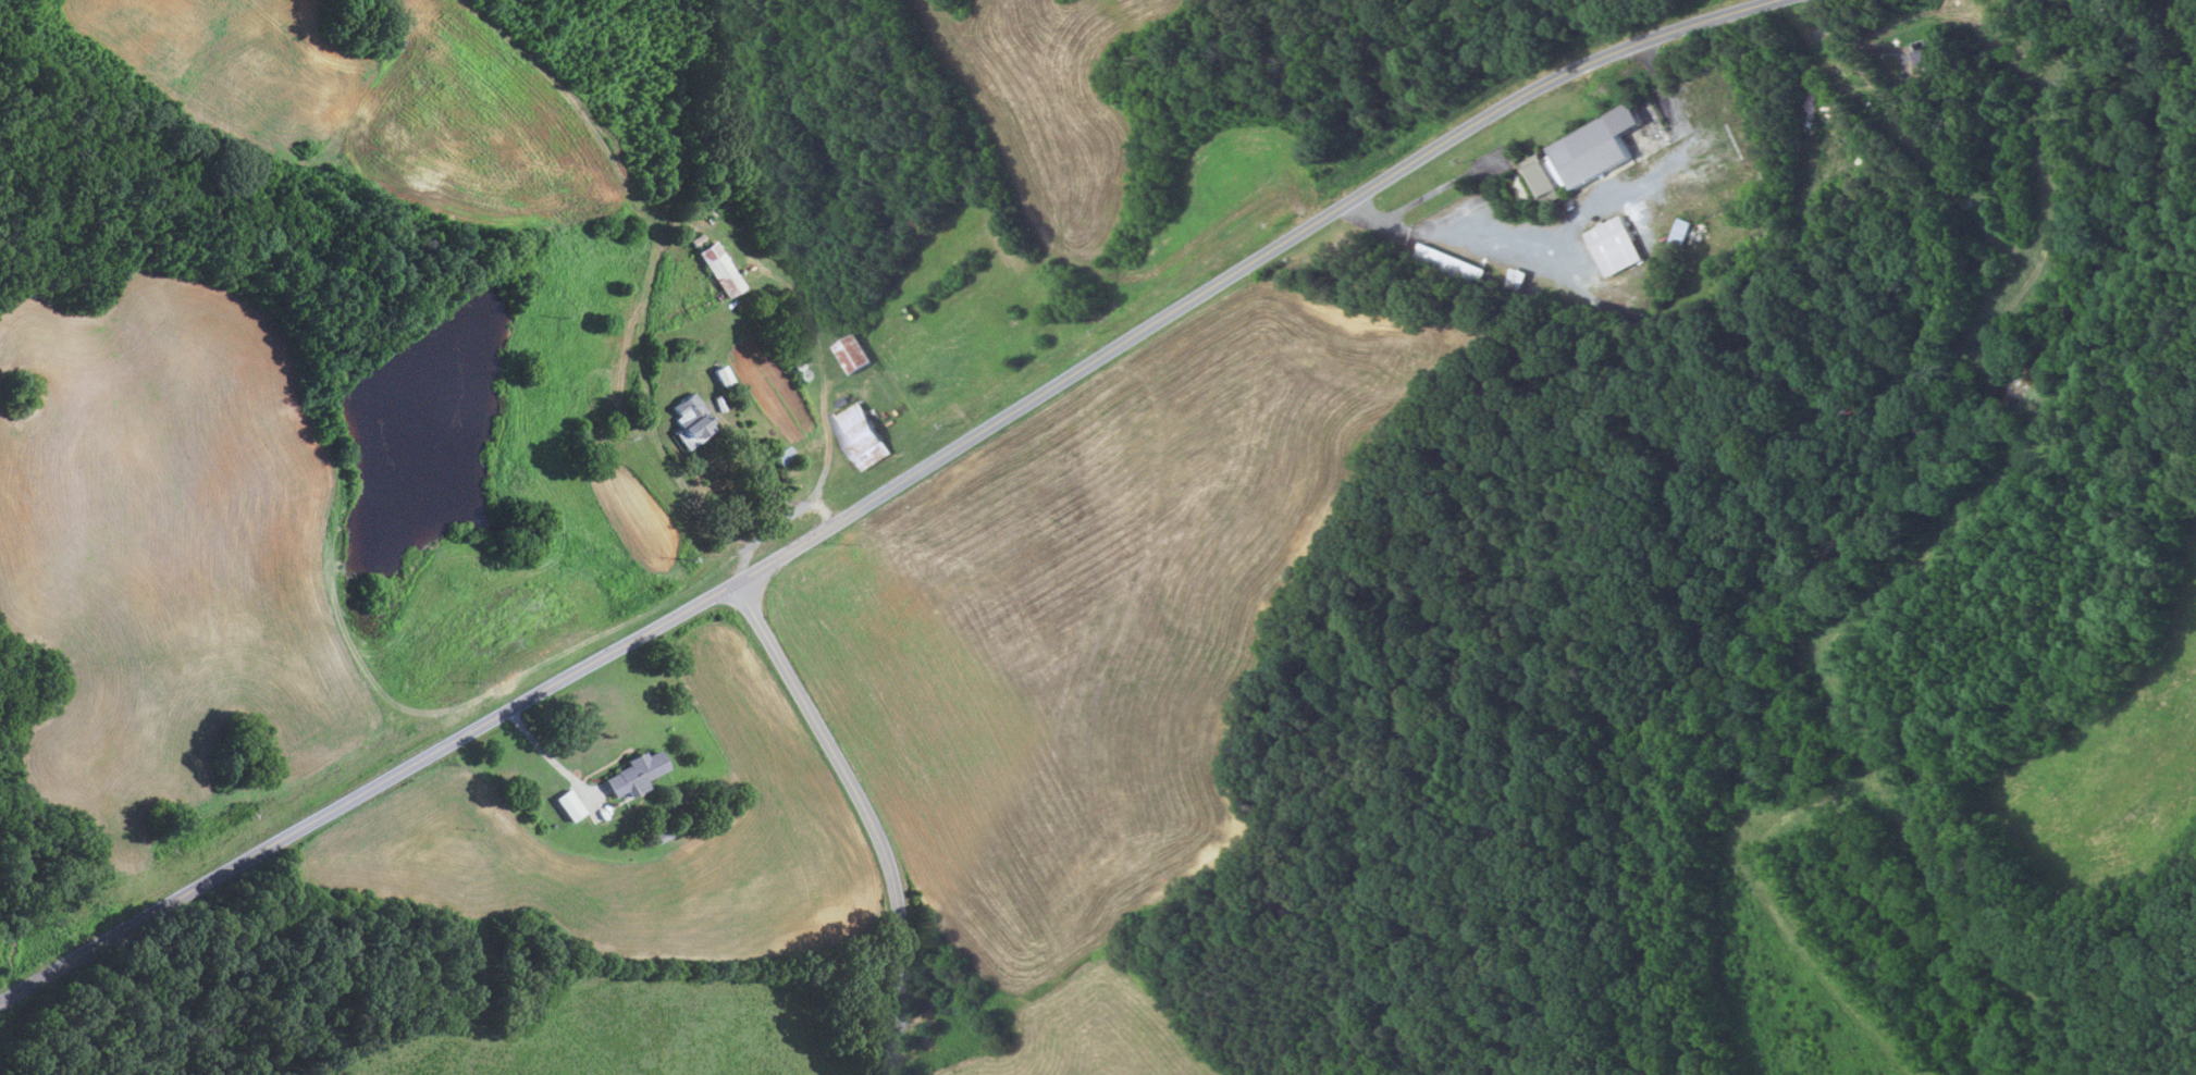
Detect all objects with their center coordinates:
building: (1920, 55)
building: (1583, 155)
building: (695, 239)
building: (1677, 239)
building: (1616, 245)
building: (1458, 269)
building: (717, 270)
building: (1516, 284)
building: (1531, 298)
building: (1914, 309)
building: (1579, 312)
building: (854, 353)
building: (1893, 355)
building: (719, 375)
building: (842, 400)
building: (717, 403)
road: (824, 418)
building: (689, 421)
building: (861, 435)
building: (779, 456)
road: (887, 485)
road: (824, 508)
road: (546, 755)
building: (632, 774)
building: (567, 805)
road: (864, 812)
building: (552, 825)
building: (661, 835)
road: (7, 993)

